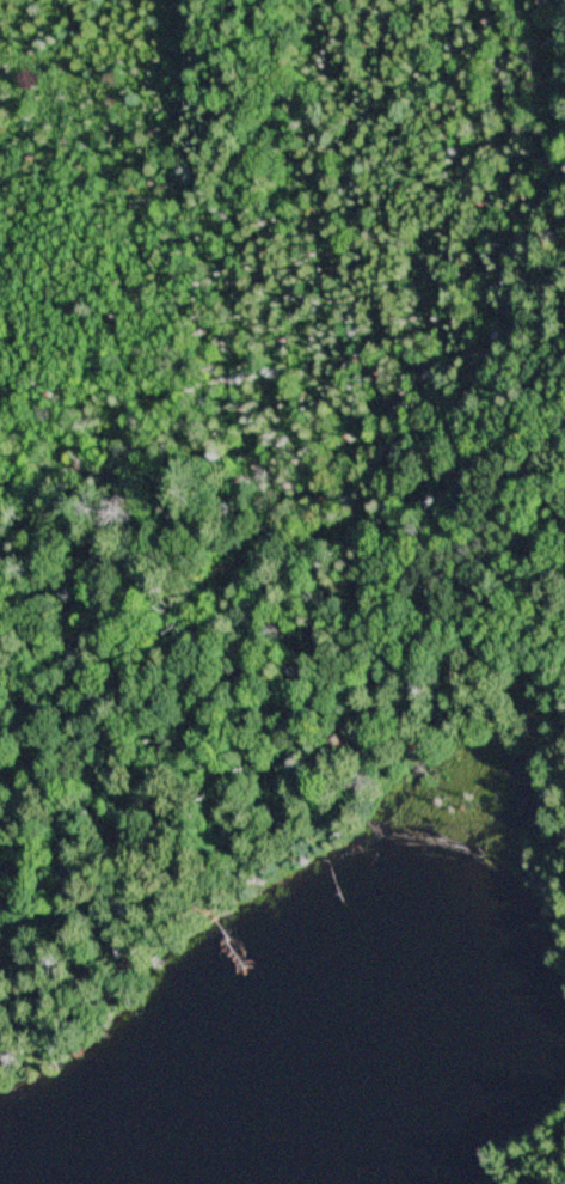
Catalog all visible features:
road: (563, 850)

